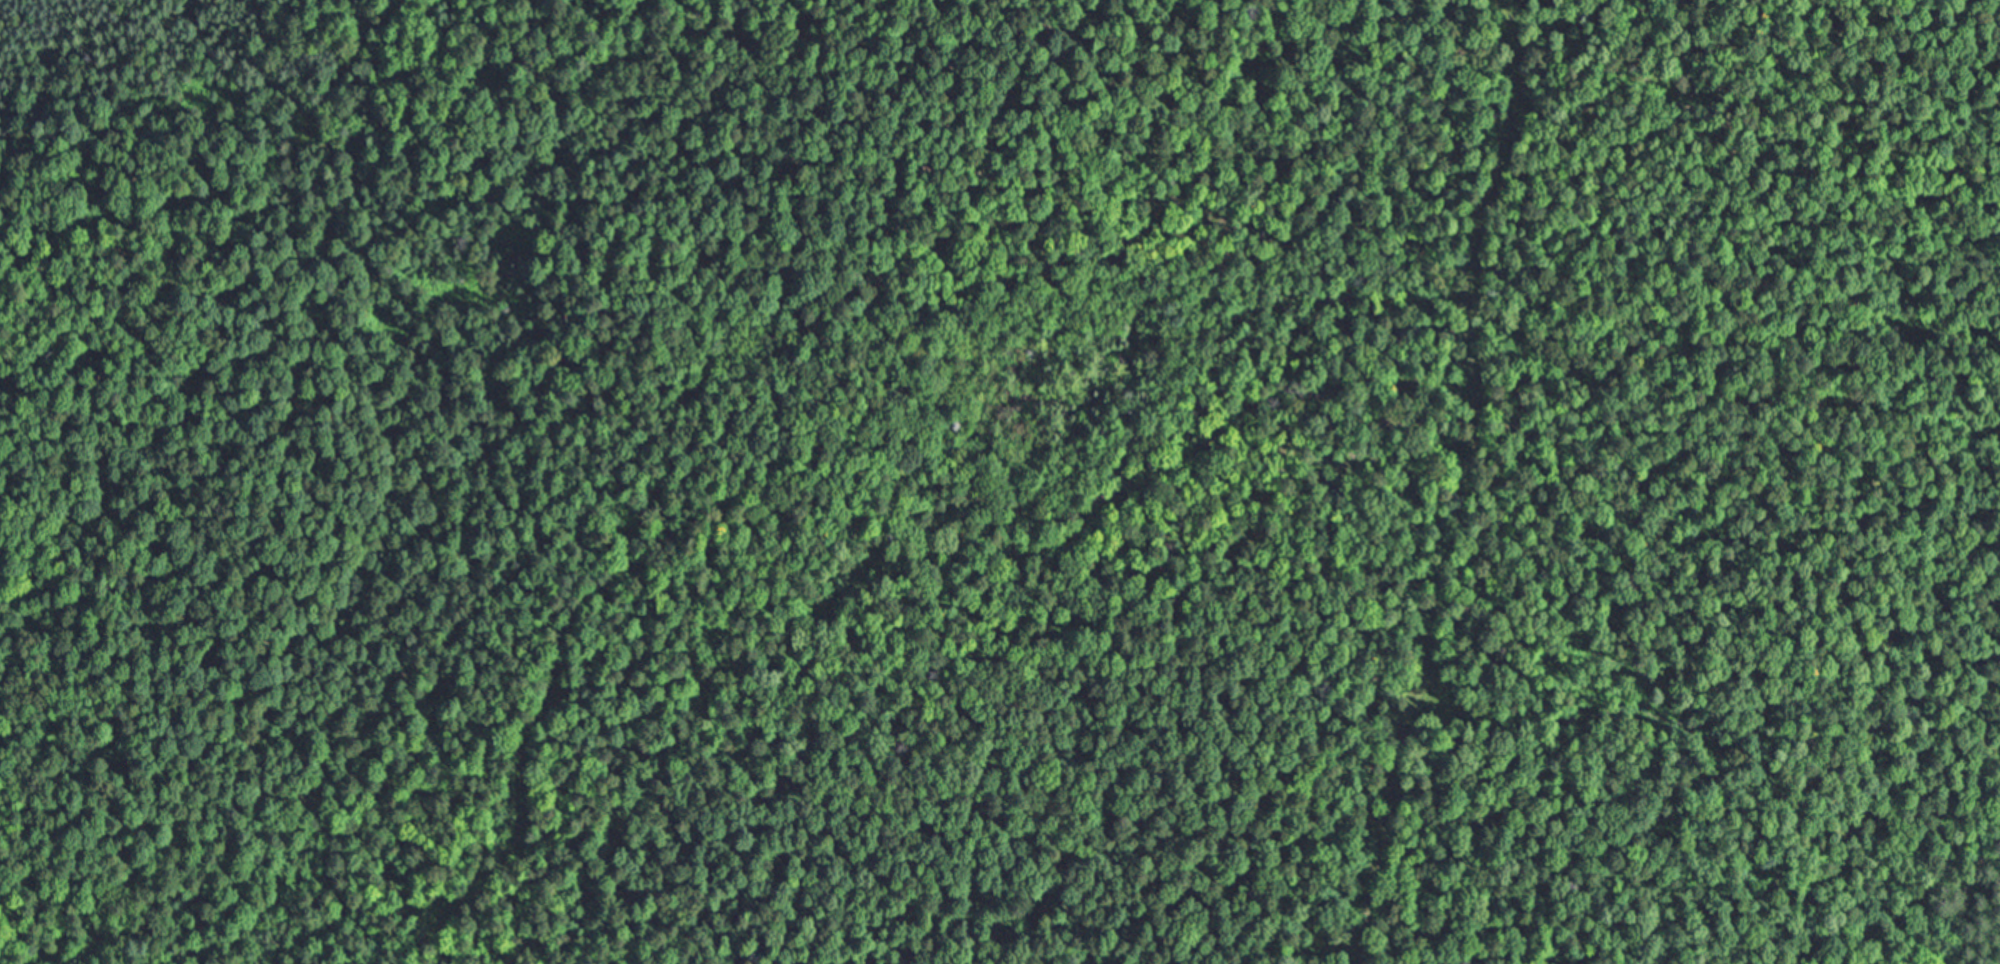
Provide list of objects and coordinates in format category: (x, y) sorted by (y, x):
road: (1452, 481)

